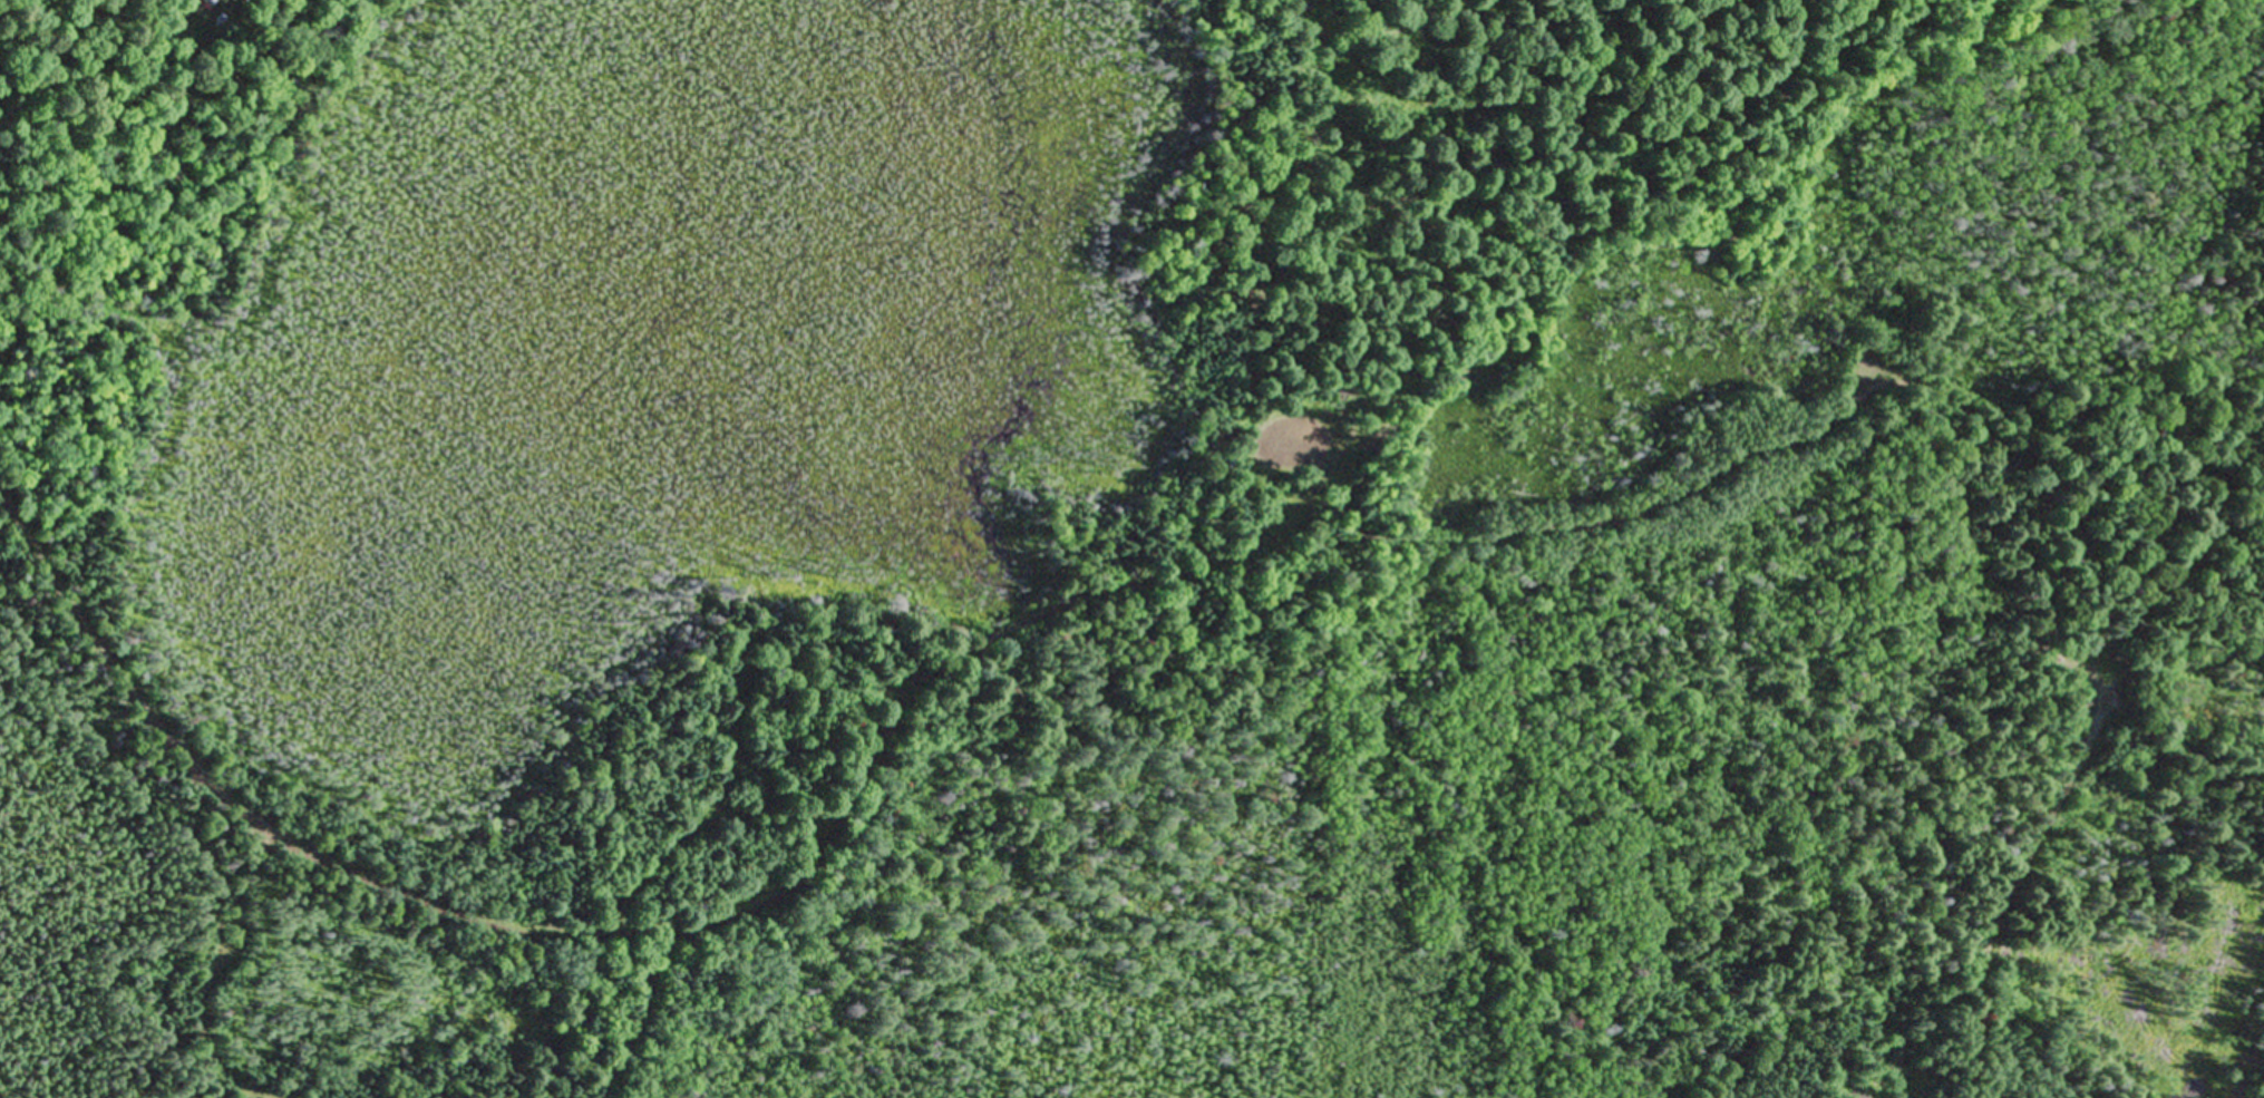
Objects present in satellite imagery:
road: (1878, 4)

